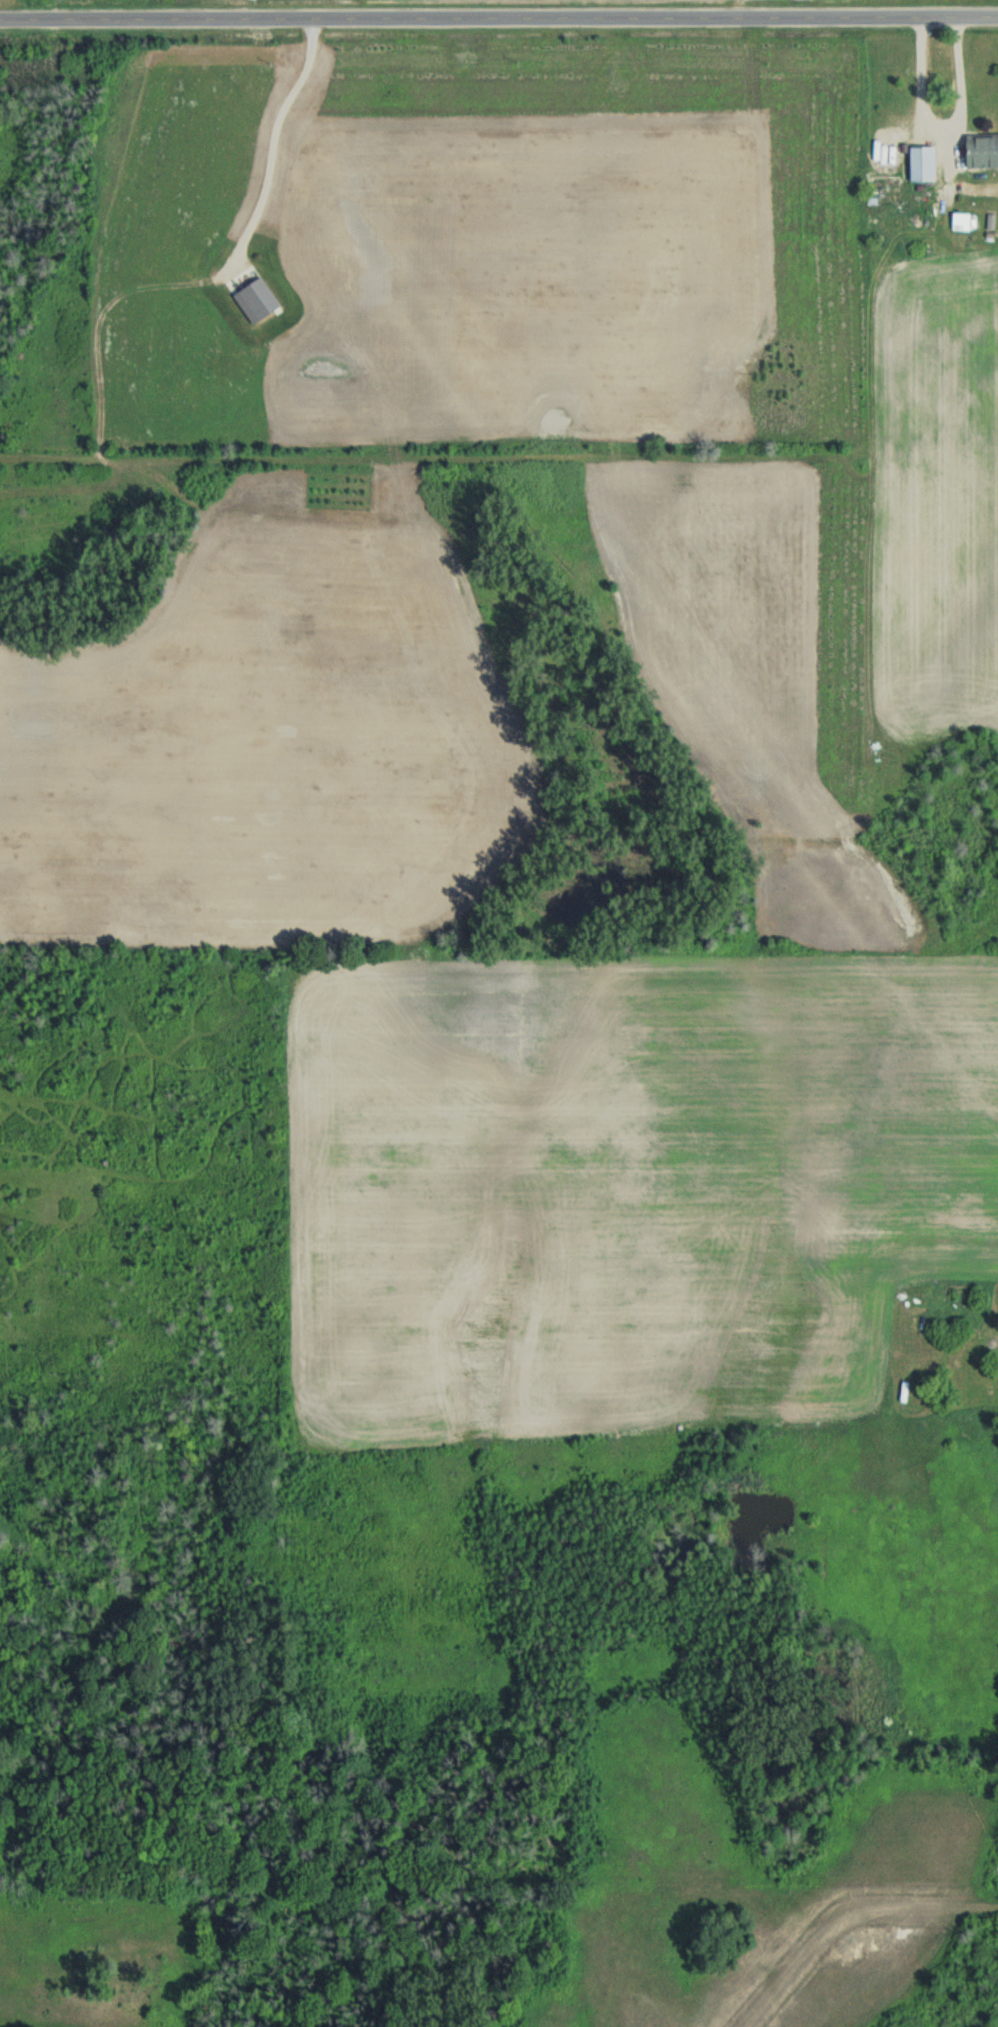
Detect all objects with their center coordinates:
road: (498, 21)
road: (943, 128)
building: (983, 153)
building: (925, 166)
building: (259, 303)
road: (858, 1943)

